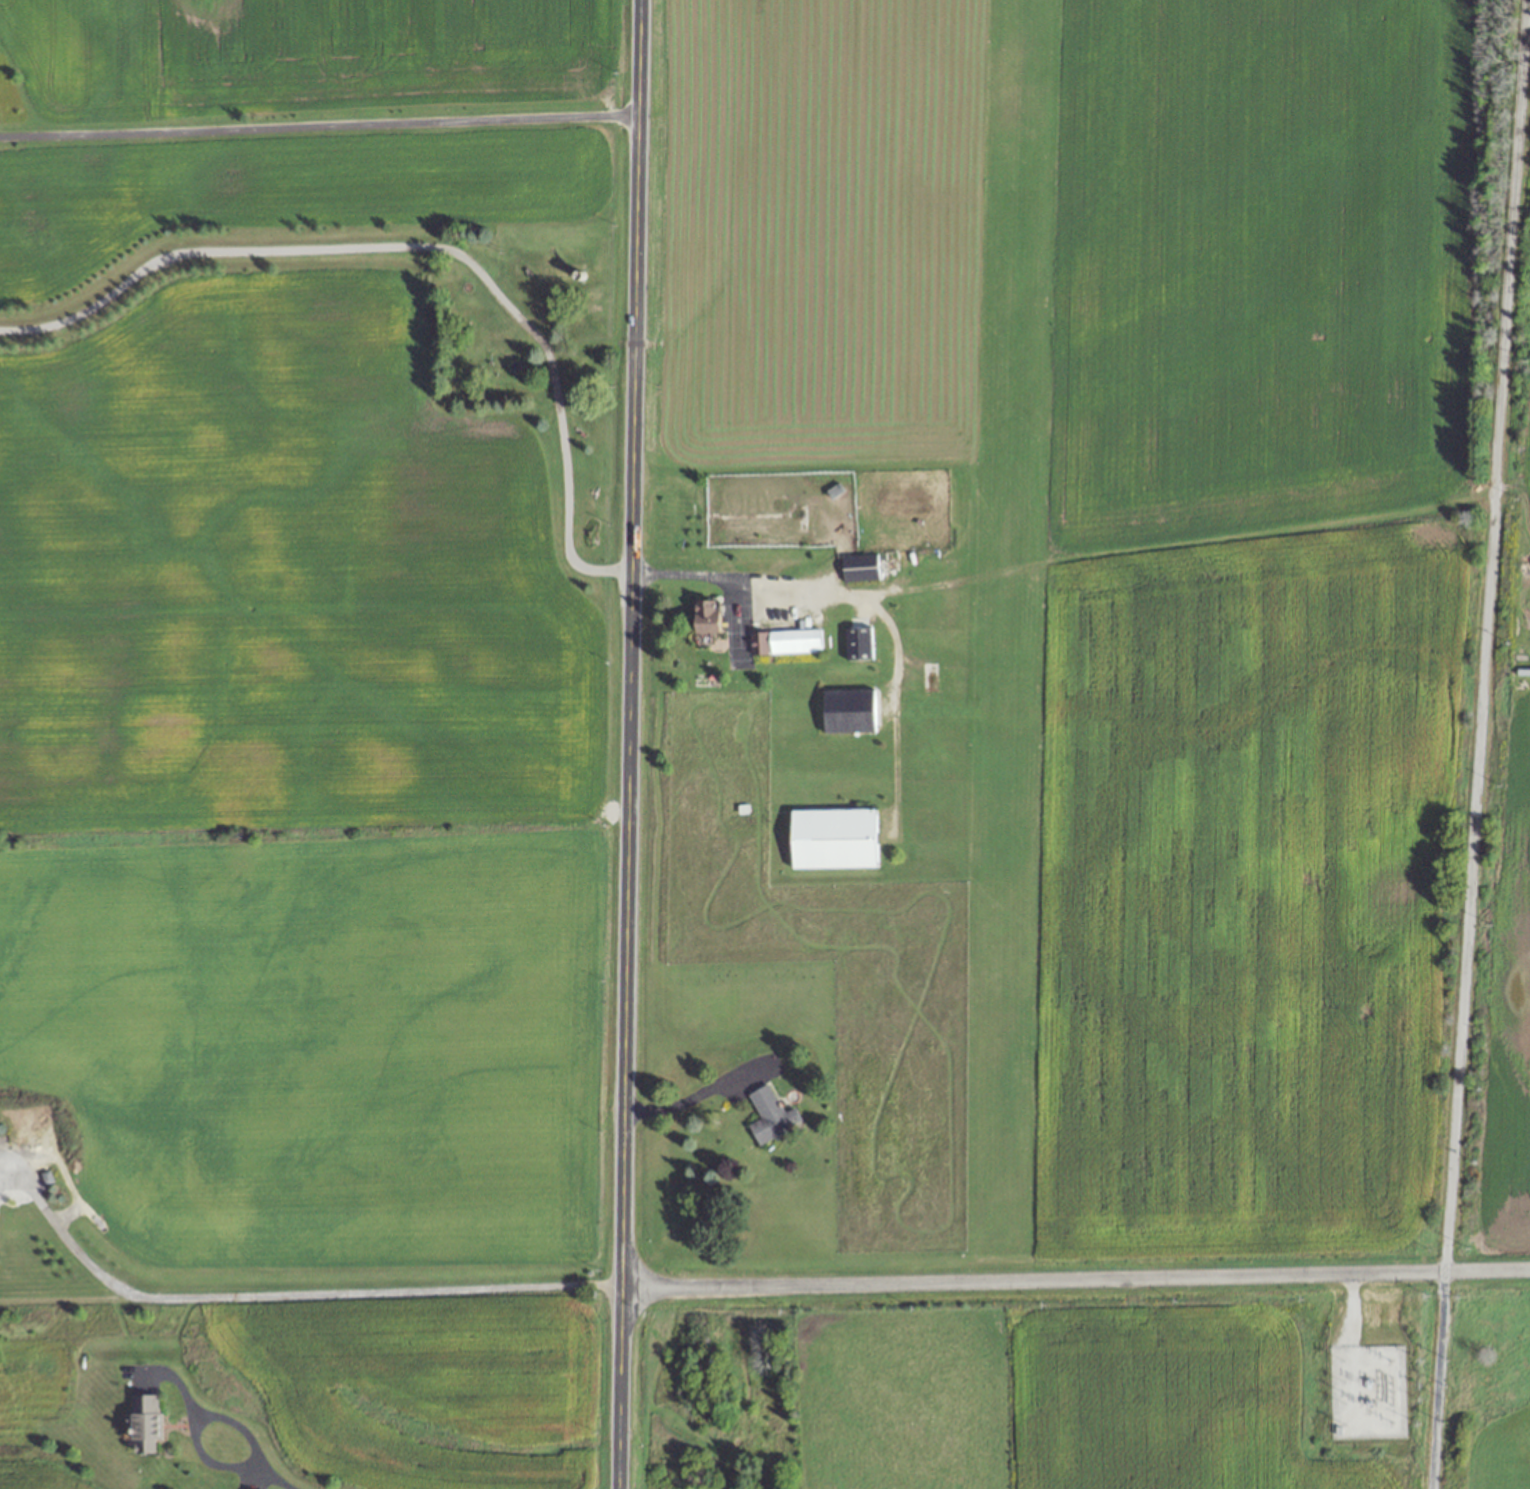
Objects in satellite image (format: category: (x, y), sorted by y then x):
road: (318, 121)
road: (421, 245)
building: (860, 567)
road: (863, 597)
building: (705, 615)
airport runway: (1006, 617)
building: (793, 640)
building: (857, 643)
building: (850, 708)
road: (626, 744)
airport: (880, 744)
road: (1476, 744)
building: (832, 838)
road: (690, 1104)
building: (770, 1116)
road: (1073, 1281)
road: (282, 1295)
building: (144, 1422)
road: (230, 1465)

